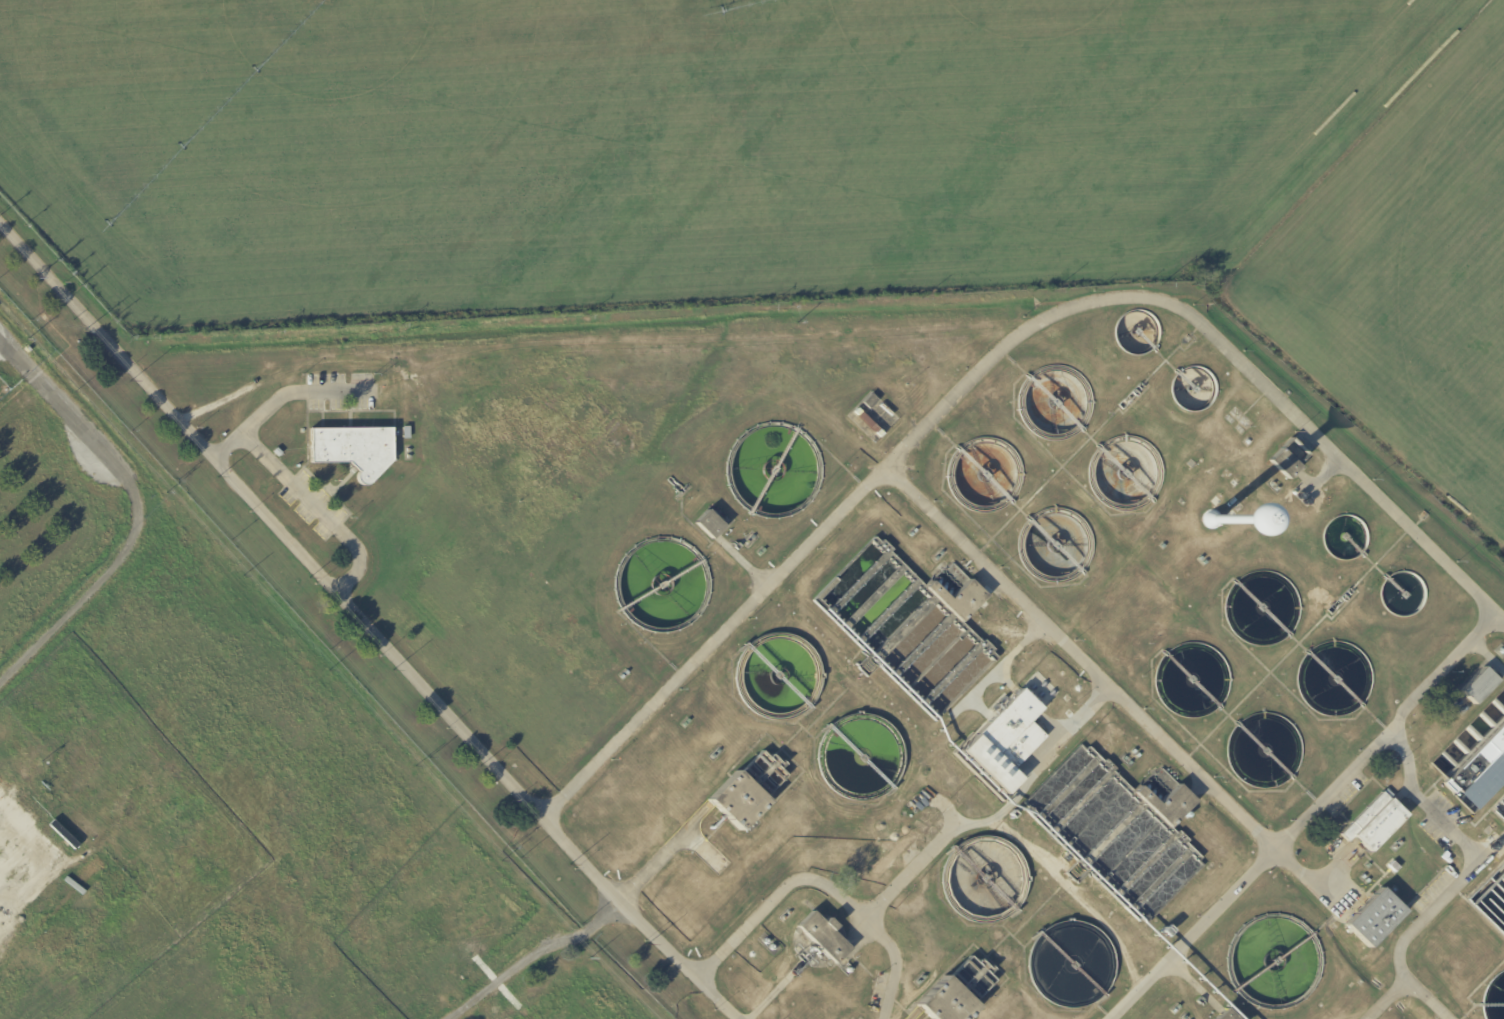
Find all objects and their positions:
crop: (798, 169)
road: (1, 338)
road: (1217, 338)
road: (606, 346)
power plant: (4, 391)
building: (913, 392)
building: (870, 401)
building: (885, 410)
building: (867, 422)
building: (354, 450)
building: (1290, 460)
building: (1306, 497)
road: (320, 509)
road: (139, 510)
building: (1211, 518)
water tower: (1208, 520)
building: (709, 524)
building: (959, 598)
road: (365, 624)
wastewater plant: (885, 638)
road: (714, 641)
road: (997, 666)
building: (626, 676)
road: (1108, 686)
building: (1478, 686)
building: (1004, 742)
building: (1478, 762)
building: (734, 800)
building: (1169, 804)
road: (939, 811)
road: (999, 813)
road: (1309, 821)
building: (1374, 822)
road: (662, 861)
building: (1169, 865)
building: (1394, 867)
road: (1462, 880)
road: (824, 885)
building: (1375, 918)
building: (822, 936)
road: (532, 956)
road: (1193, 981)
road: (765, 997)
road: (1391, 1002)
building: (944, 1003)
building: (1226, 1015)

